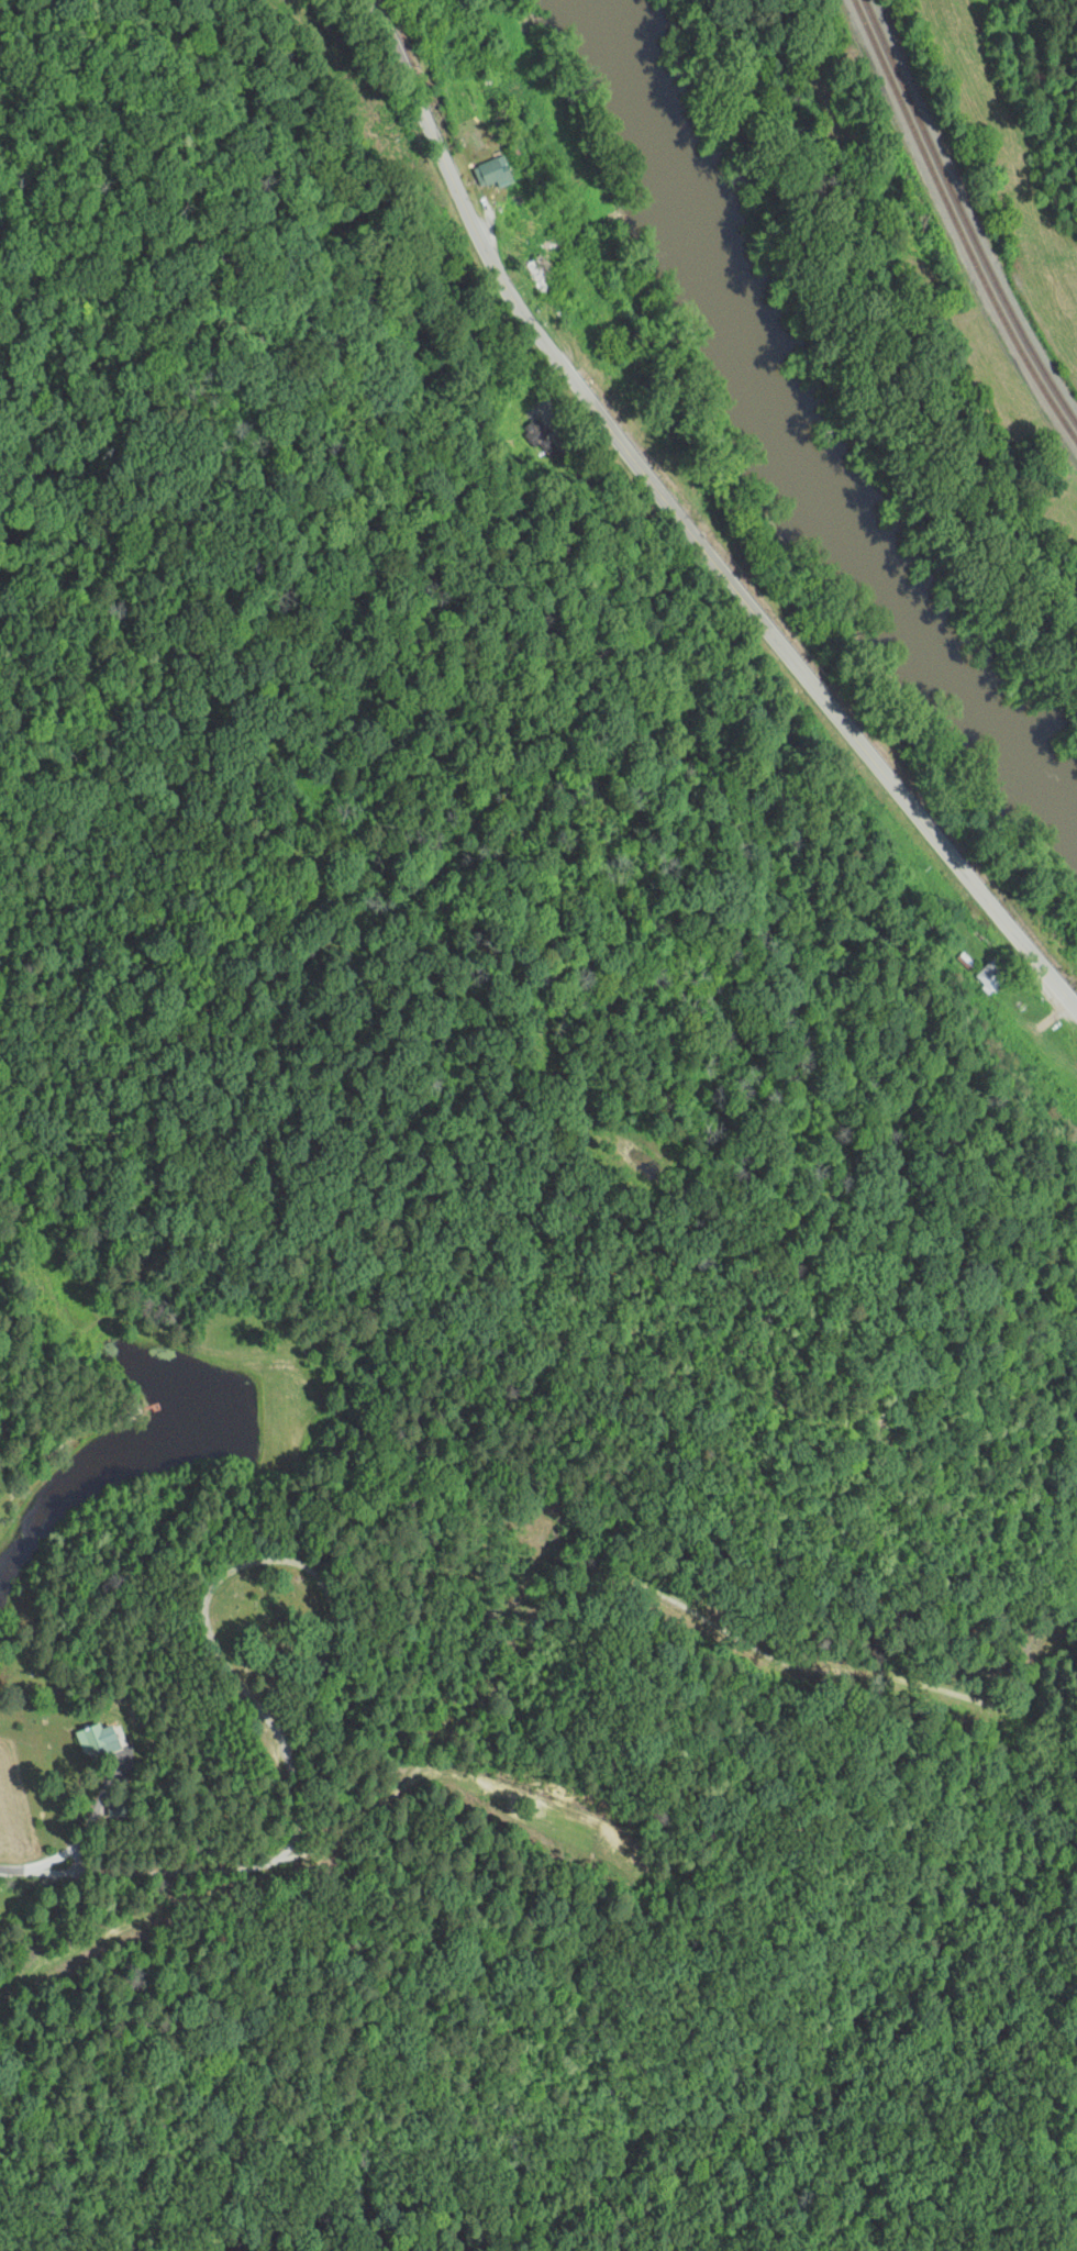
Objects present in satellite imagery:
road: (1028, 158)
building: (490, 173)
railway: (954, 221)
building: (537, 276)
river: (779, 435)
road: (687, 529)
building: (992, 975)
road: (73, 1434)
building: (97, 1740)

